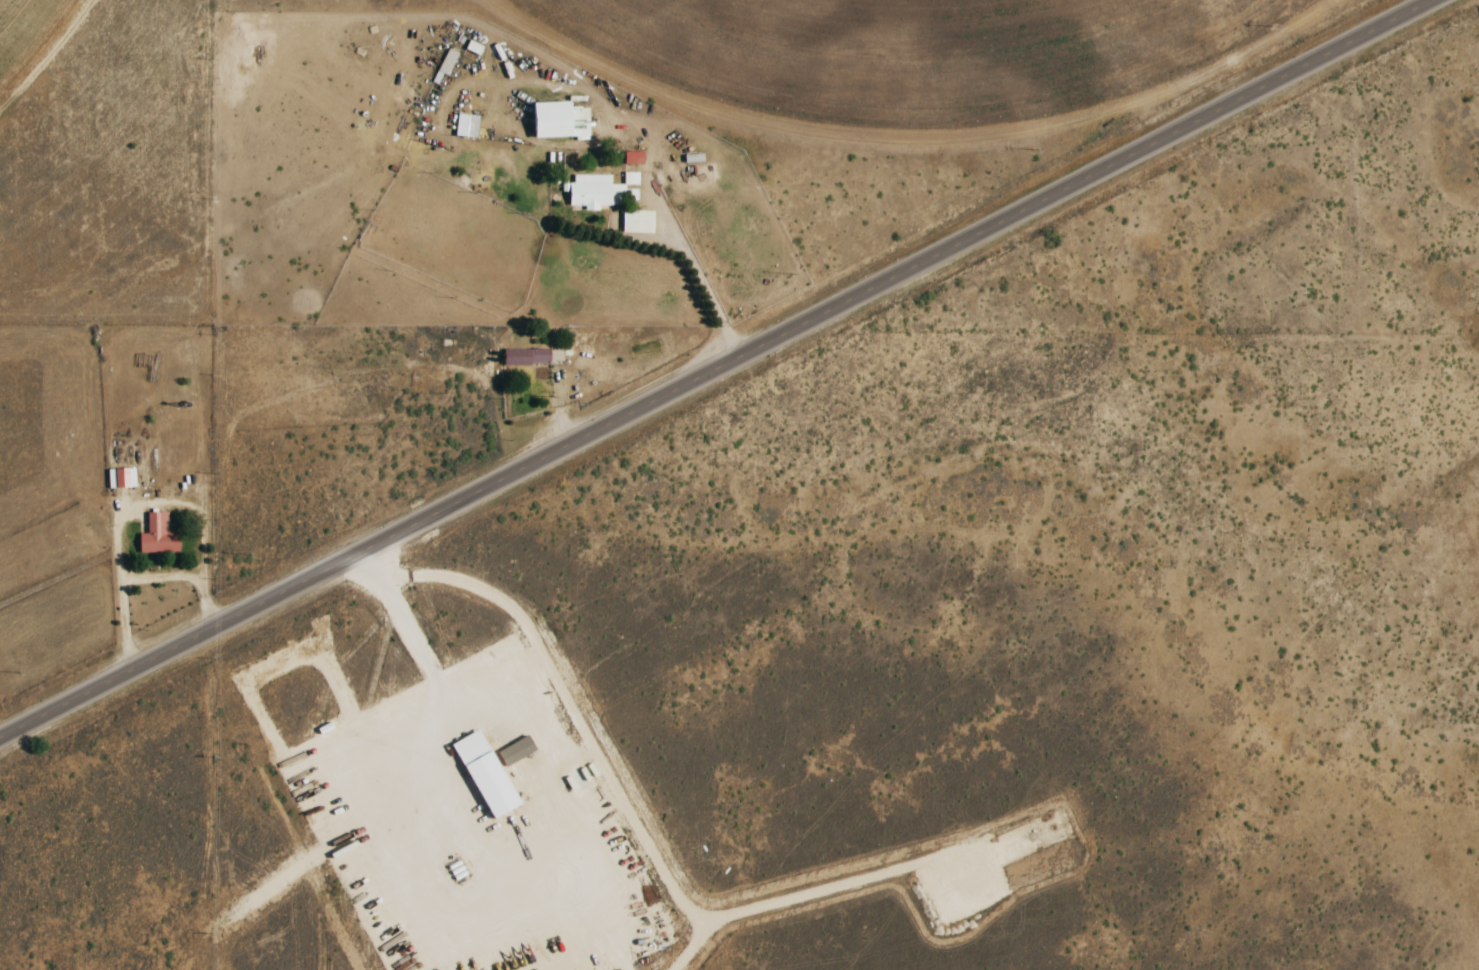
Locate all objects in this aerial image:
building: (474, 47)
building: (447, 64)
building: (578, 100)
building: (560, 121)
building: (467, 126)
building: (634, 158)
building: (632, 179)
building: (598, 192)
building: (638, 222)
building: (534, 357)
road: (714, 368)
building: (122, 478)
building: (159, 535)
building: (516, 751)
building: (486, 774)

